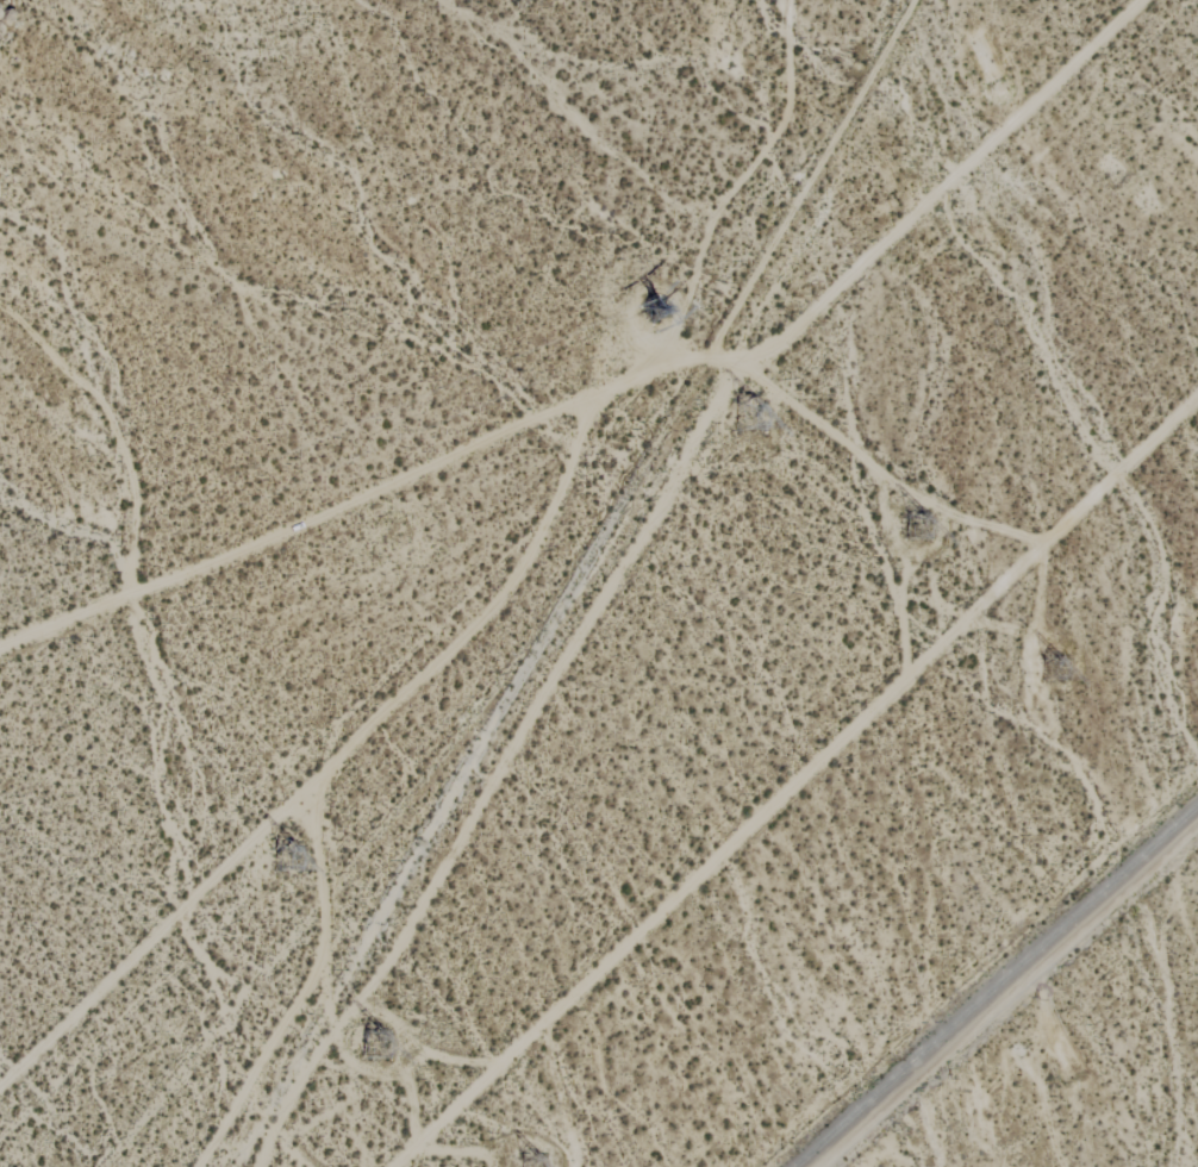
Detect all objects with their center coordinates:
power tower: (659, 311)
power tower: (749, 420)
road: (531, 422)
power tower: (919, 526)
road: (643, 536)
power tower: (1066, 664)
road: (797, 781)
power tower: (292, 857)
railway: (993, 984)
road: (1006, 994)
power tower: (389, 1047)

